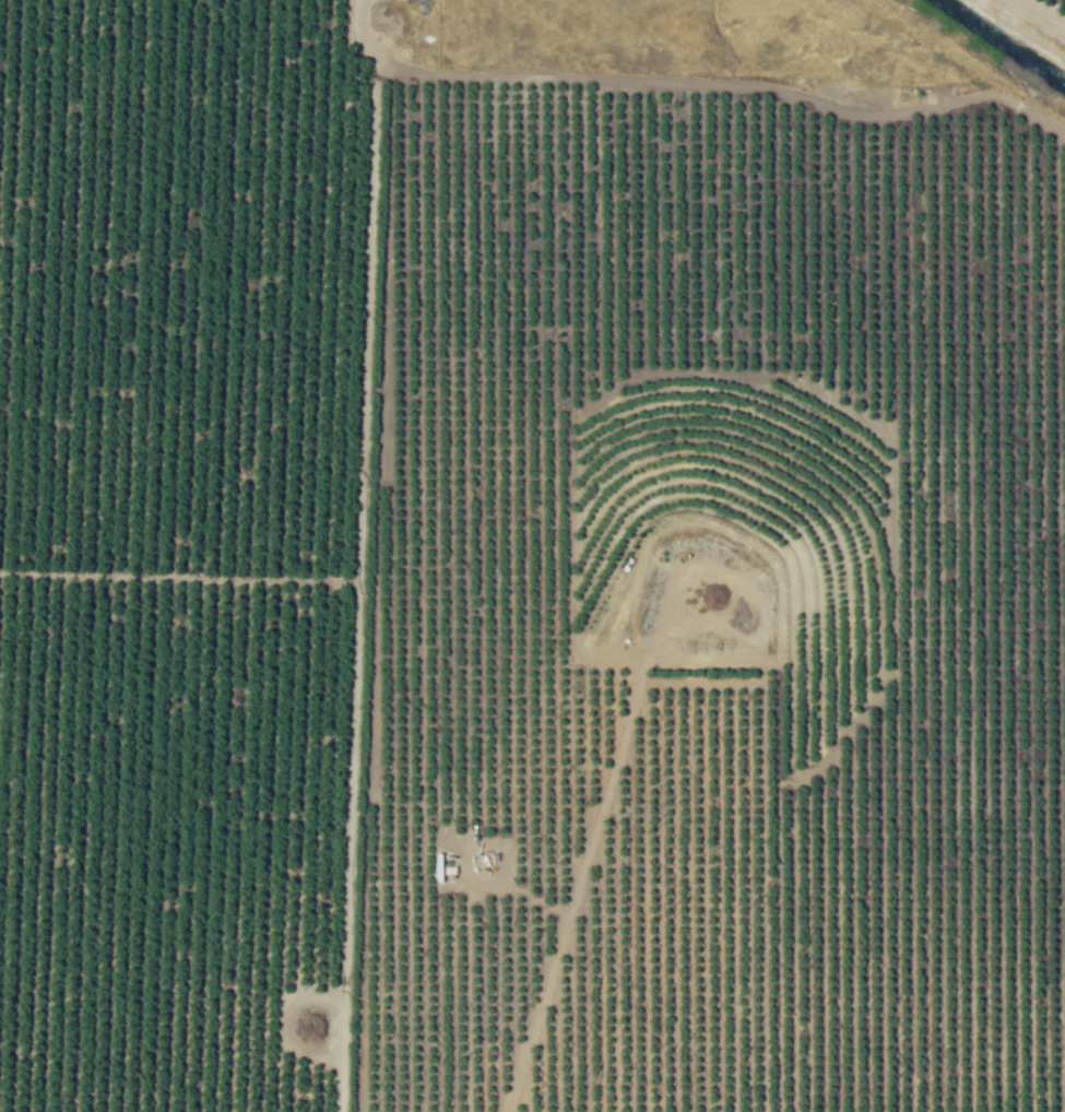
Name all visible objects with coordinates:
crop: (1050, 8)
road: (356, 553)

